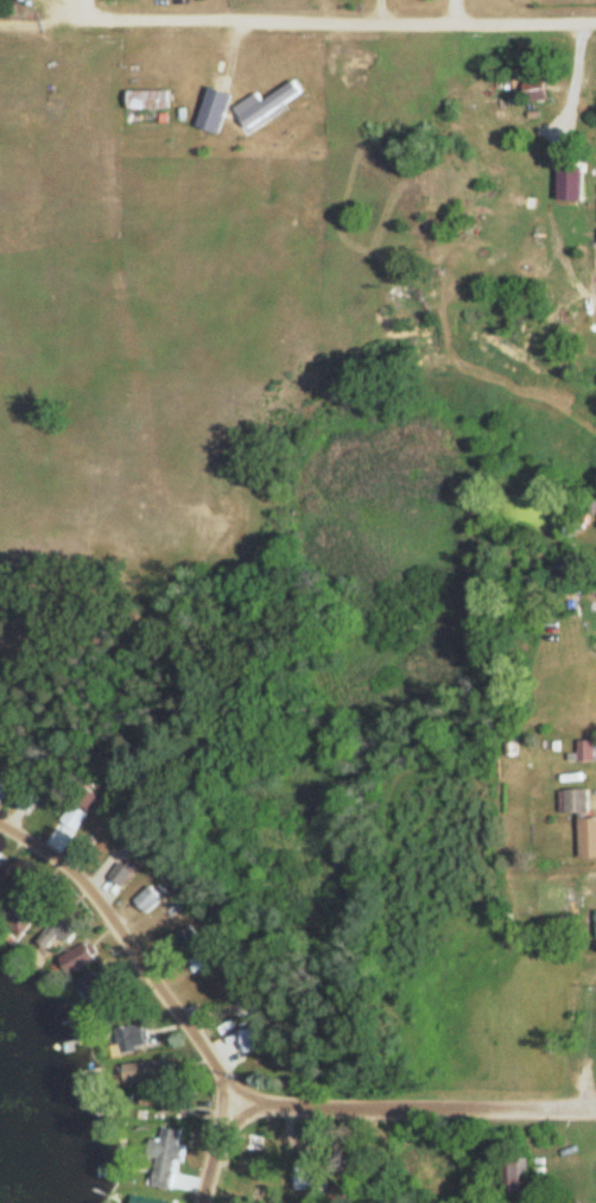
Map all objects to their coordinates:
road: (379, 12)
road: (297, 24)
building: (538, 90)
building: (152, 101)
building: (588, 752)
building: (5, 790)
building: (30, 800)
building: (577, 803)
building: (76, 818)
building: (589, 838)
building: (126, 873)
building: (151, 900)
building: (38, 906)
building: (65, 932)
building: (183, 943)
building: (81, 960)
building: (101, 984)
building: (259, 1040)
building: (153, 1074)
road: (233, 1101)
building: (166, 1104)
road: (211, 1153)
building: (167, 1159)
building: (526, 1176)
building: (312, 1178)
building: (144, 1202)

